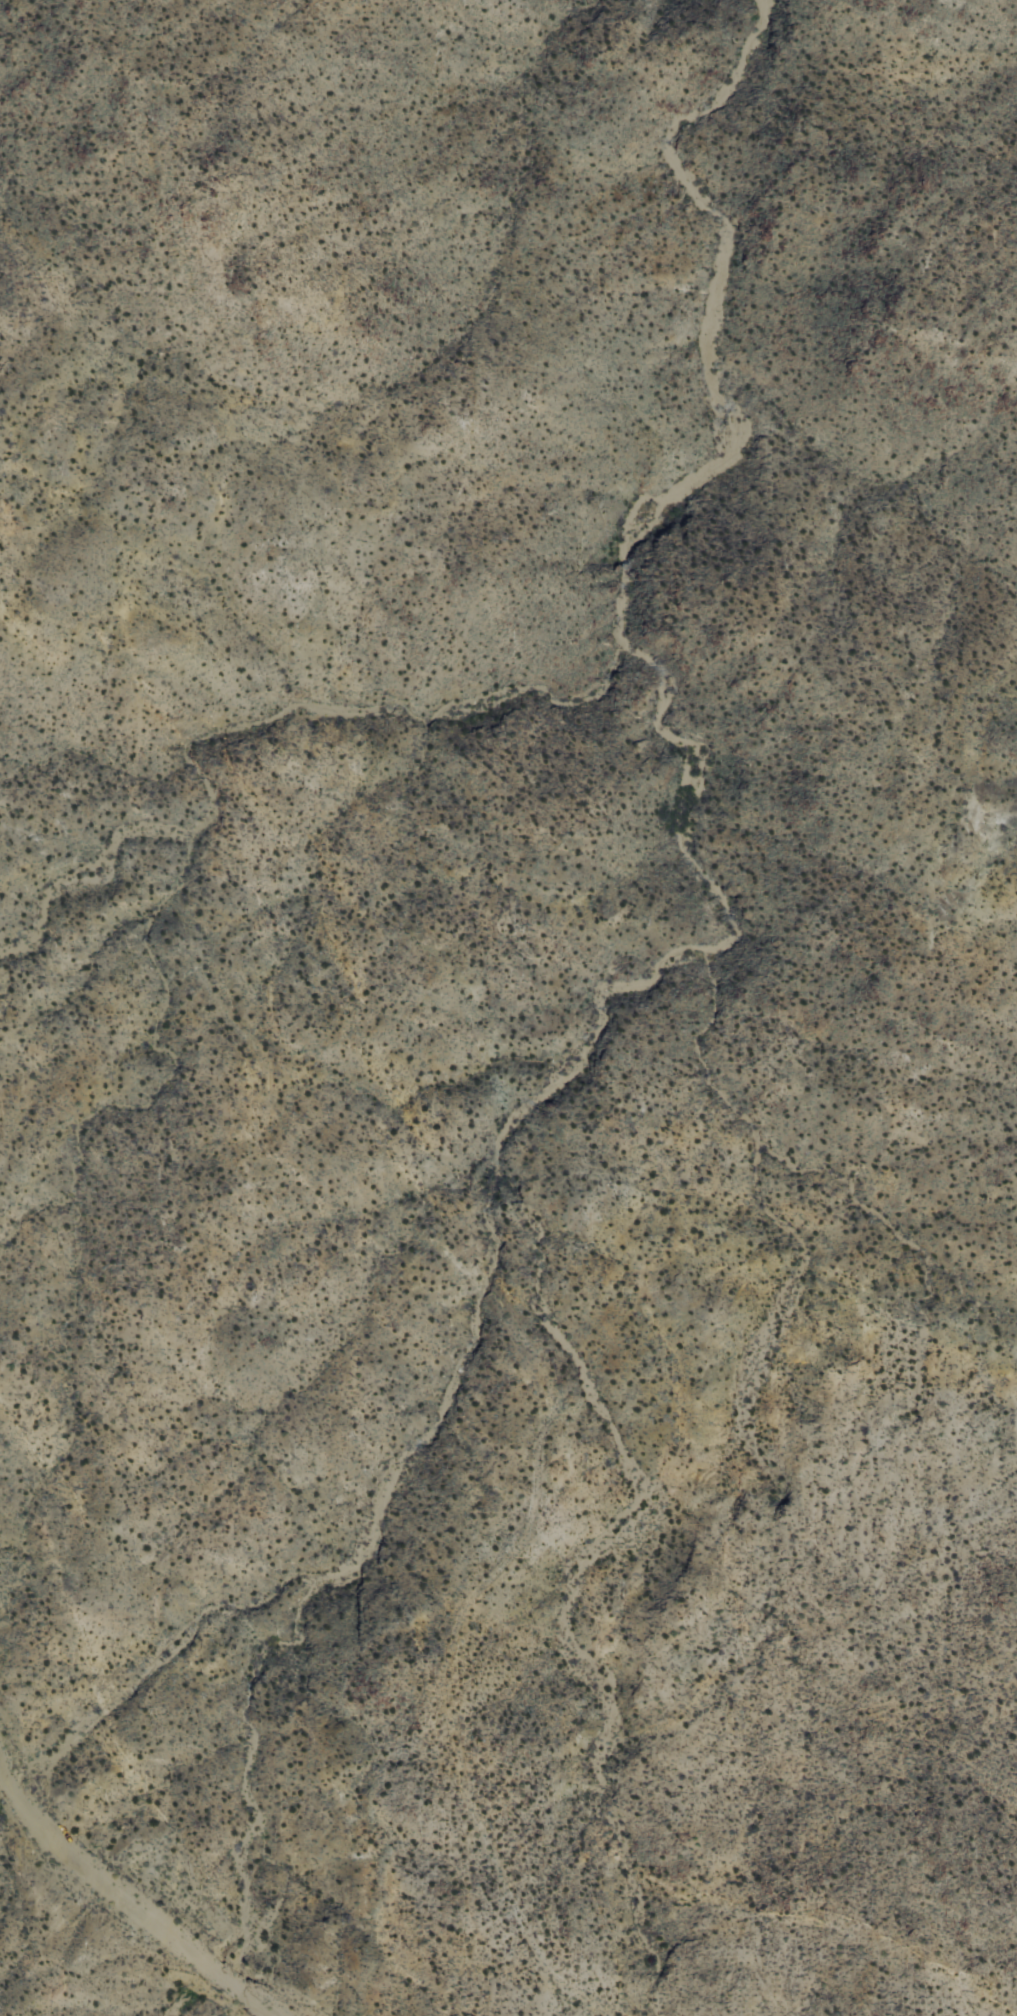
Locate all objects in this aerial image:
road: (127, 1898)

